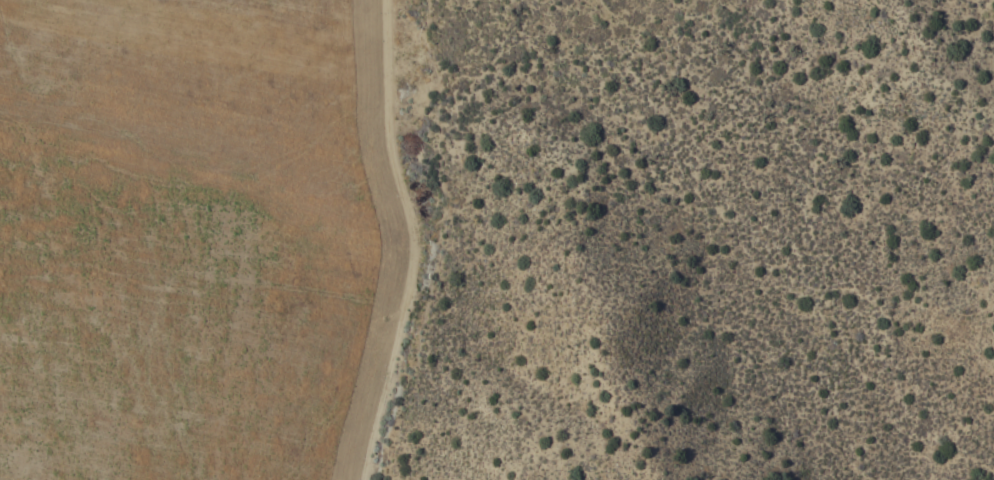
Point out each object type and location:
crop: (199, 238)

